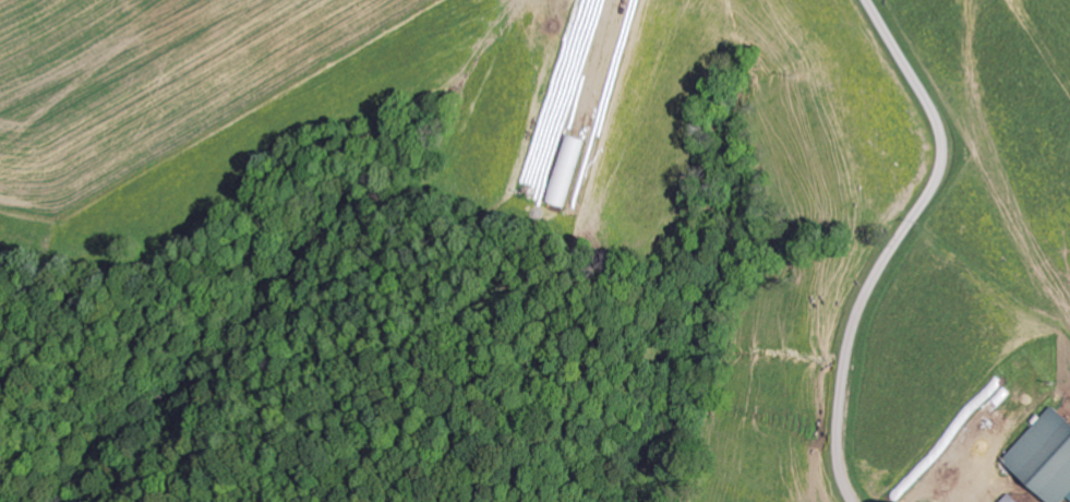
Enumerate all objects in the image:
building: (562, 170)
building: (1042, 456)
building: (1007, 499)

